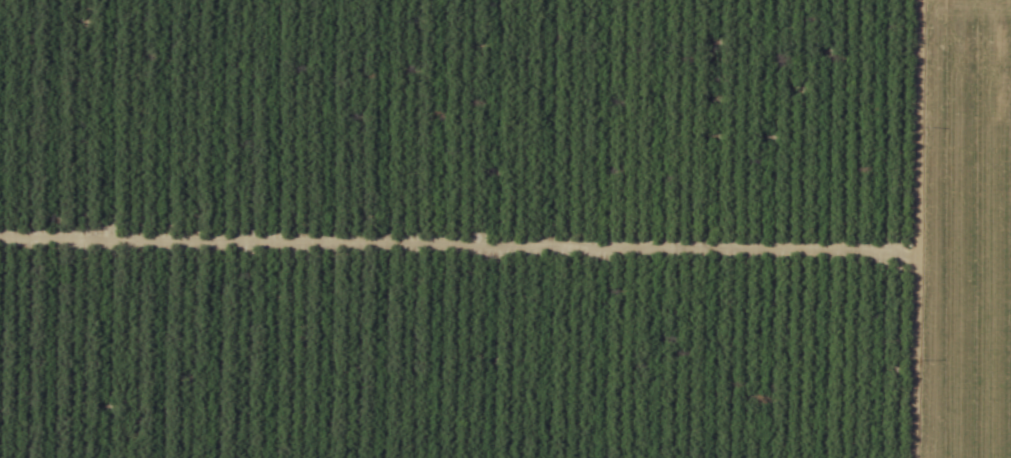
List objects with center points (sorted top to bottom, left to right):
road: (894, 229)
crop: (965, 231)

